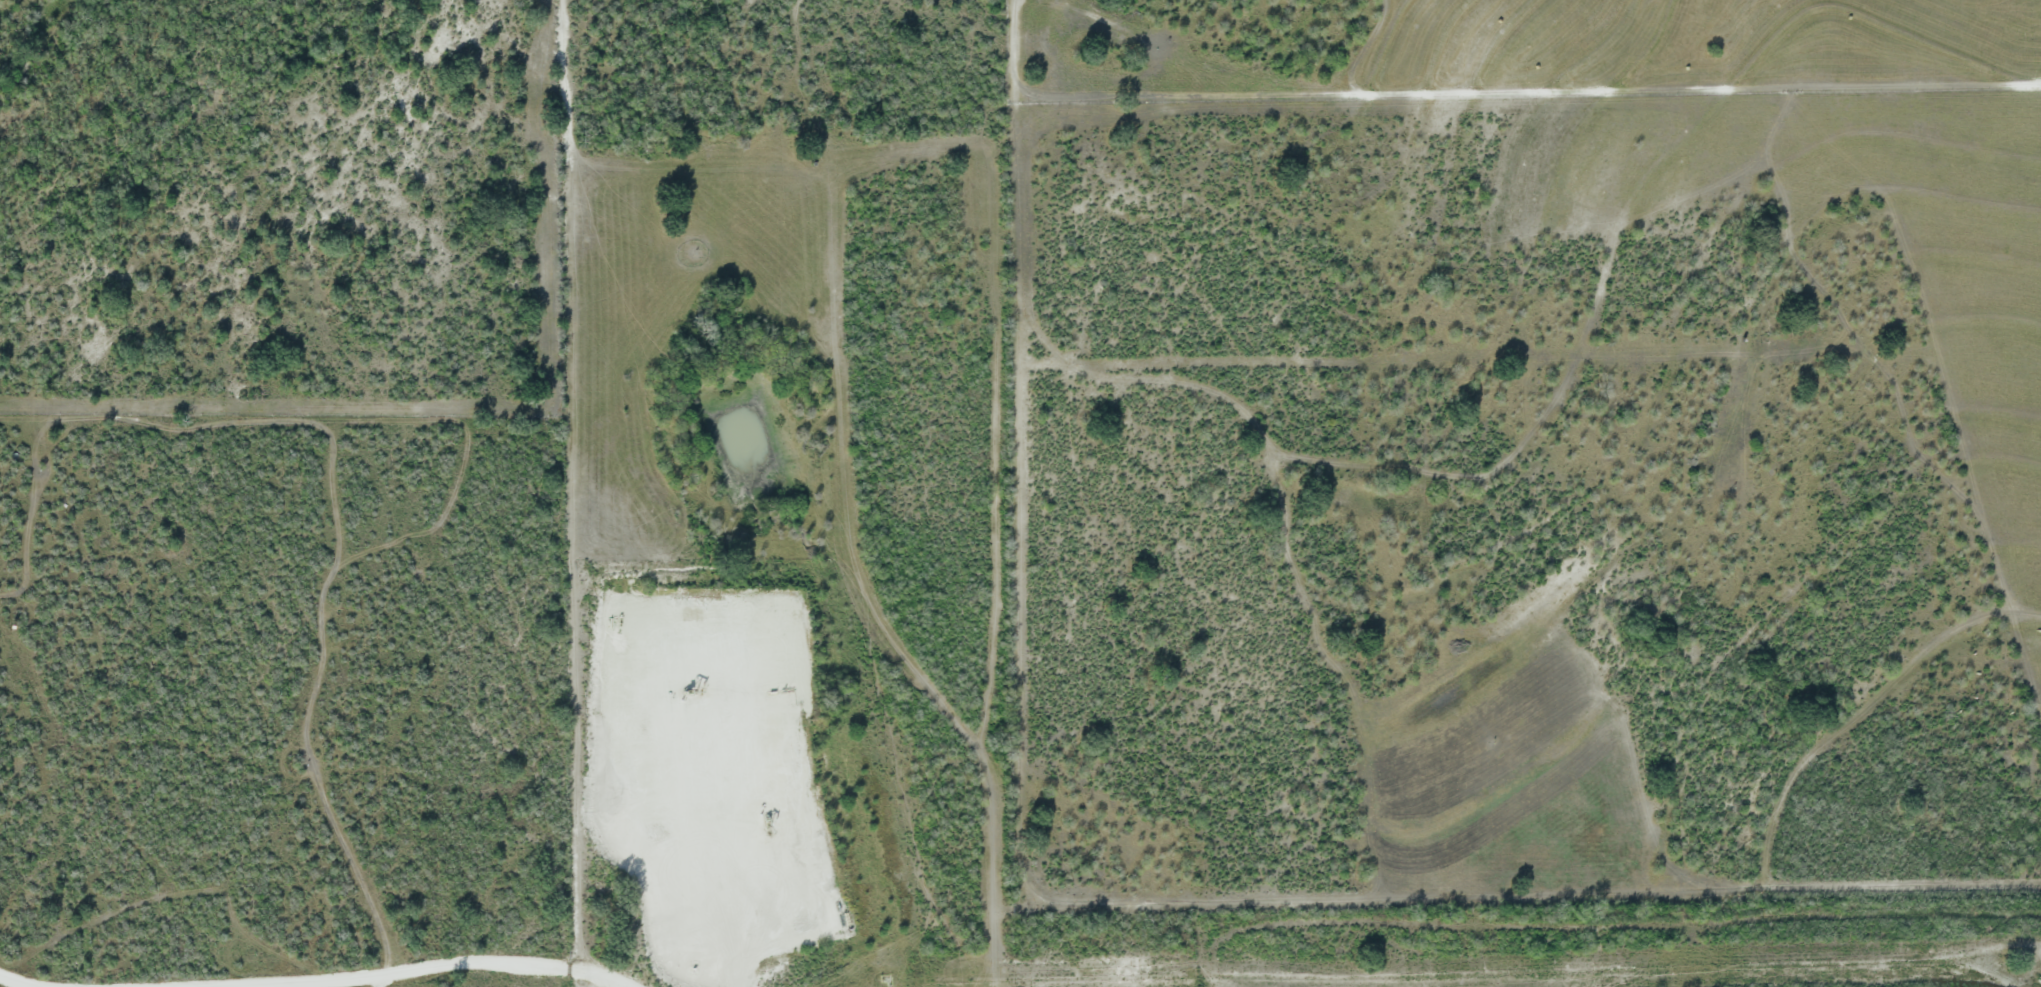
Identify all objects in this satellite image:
river: (23, 51)
road: (735, 798)
road: (346, 971)
road: (6, 983)

